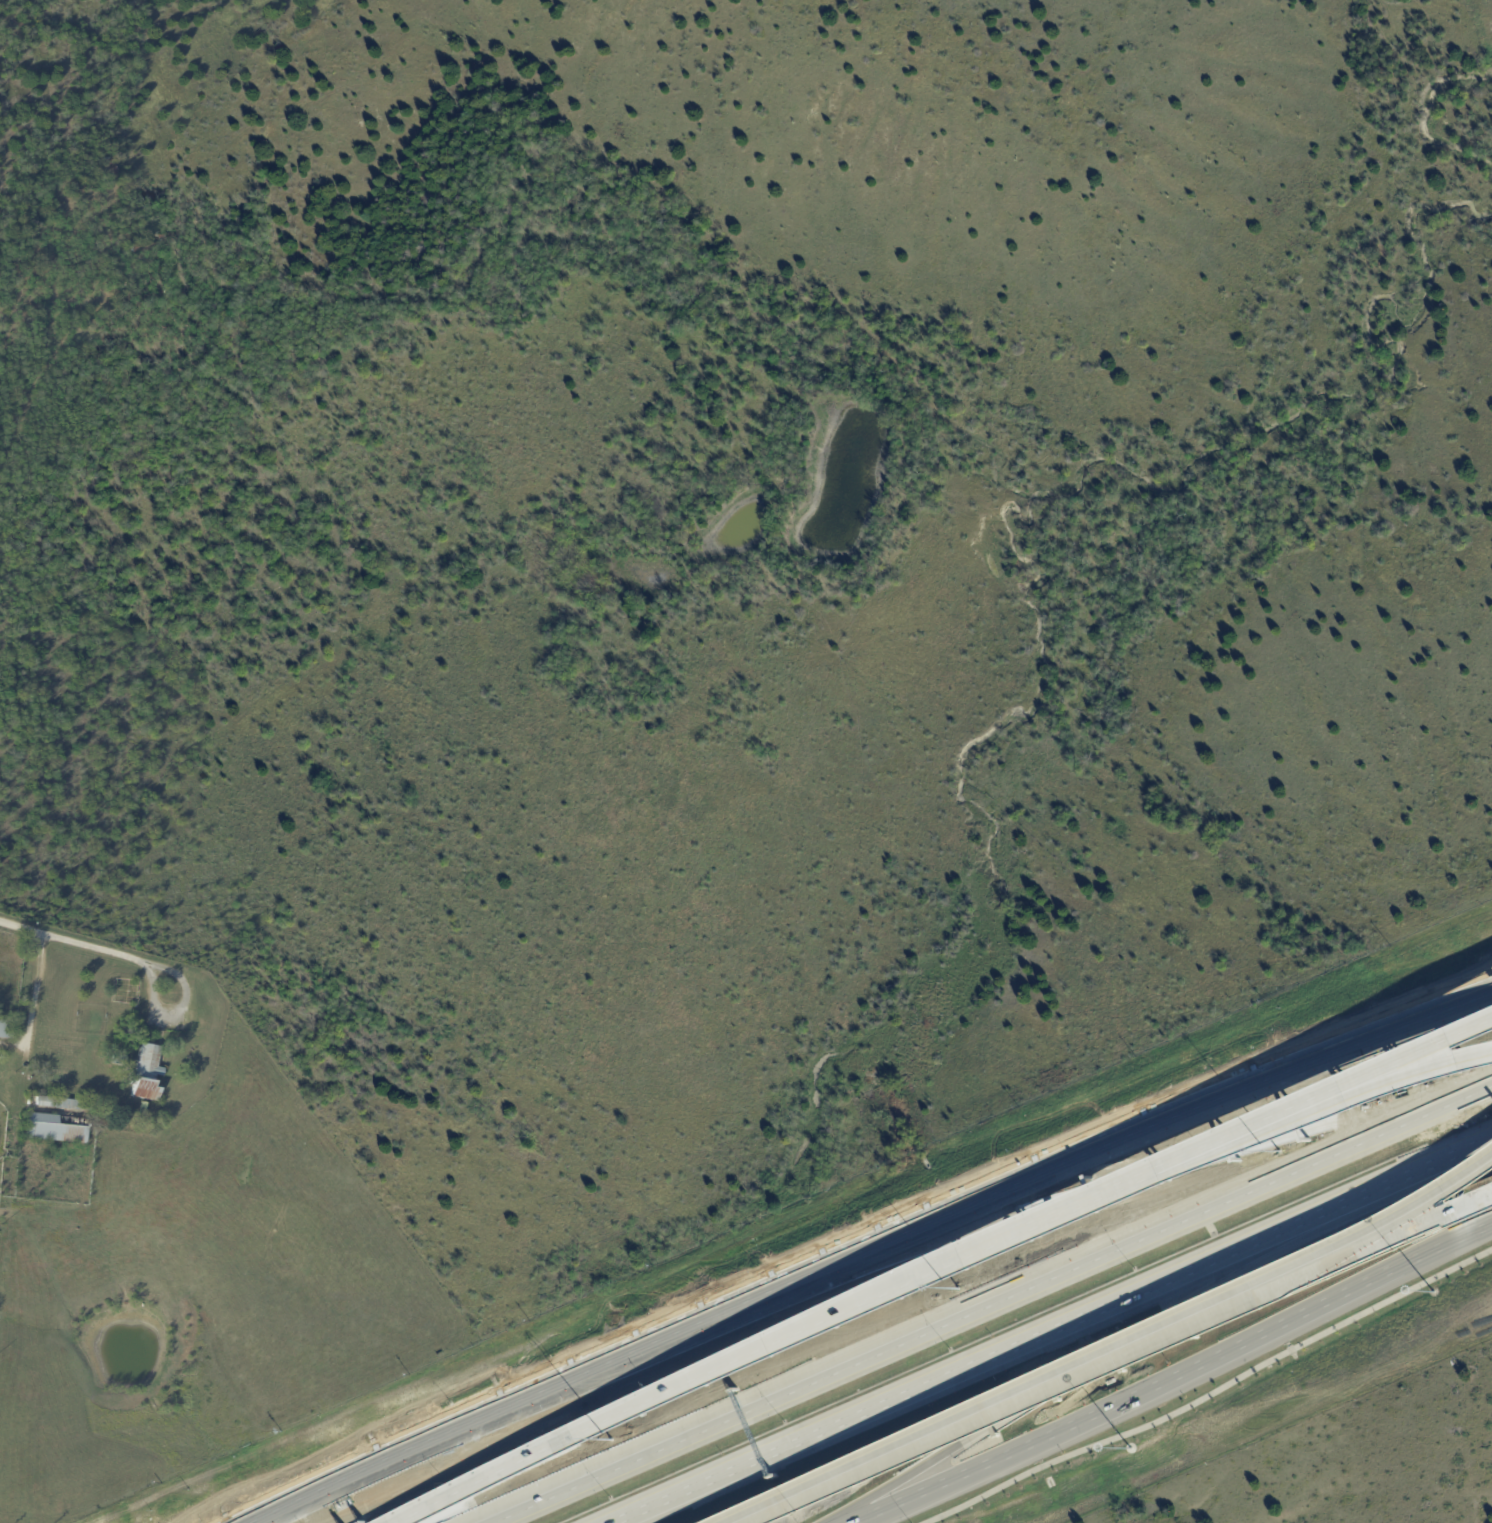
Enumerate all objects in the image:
building: (108, 170)
building: (151, 244)
road: (96, 948)
road: (32, 989)
building: (5, 1029)
building: (118, 1060)
road: (1390, 1066)
building: (146, 1073)
road: (1389, 1081)
building: (41, 1102)
building: (83, 1106)
building: (54, 1129)
road: (1124, 1139)
road: (1452, 1160)
road: (1126, 1177)
road: (1405, 1211)
road: (1403, 1228)
road: (919, 1278)
road: (985, 1301)
road: (635, 1348)
road: (1018, 1350)
road: (1123, 1351)
road: (1174, 1374)
road: (1023, 1394)
road: (1208, 1396)
road: (381, 1462)
road: (473, 1484)

